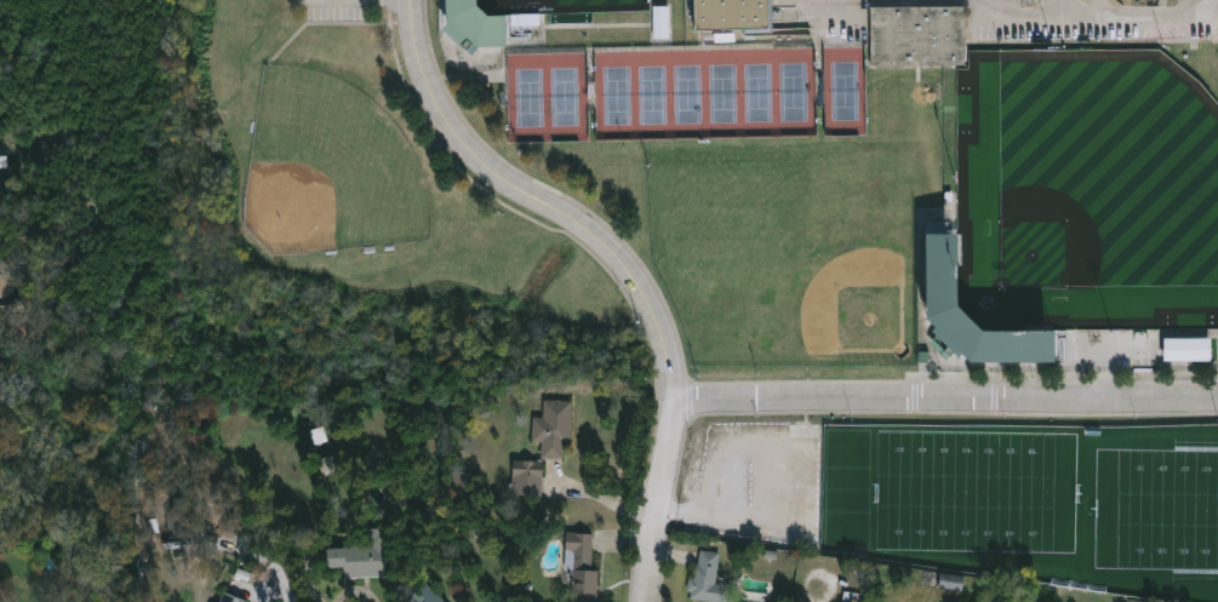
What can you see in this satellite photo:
road: (337, 0)
building: (1033, 0)
building: (1155, 1)
park: (561, 5)
parking lot: (339, 7)
building: (734, 16)
road: (1097, 17)
building: (476, 22)
building: (662, 22)
building: (920, 36)
park: (845, 91)
park: (705, 92)
park: (548, 97)
building: (4, 159)
park: (328, 168)
building: (0, 189)
park: (1088, 193)
park: (787, 252)
road: (623, 262)
building: (945, 264)
building: (5, 277)
building: (1188, 349)
road: (947, 396)
building: (553, 429)
building: (318, 435)
building: (527, 477)
park: (1039, 505)
building: (360, 560)
building: (581, 562)
building: (708, 578)
building: (951, 580)
road: (358, 590)
building: (1, 595)
building: (422, 595)
building: (230, 597)
road: (265, 598)
building: (850, 601)

